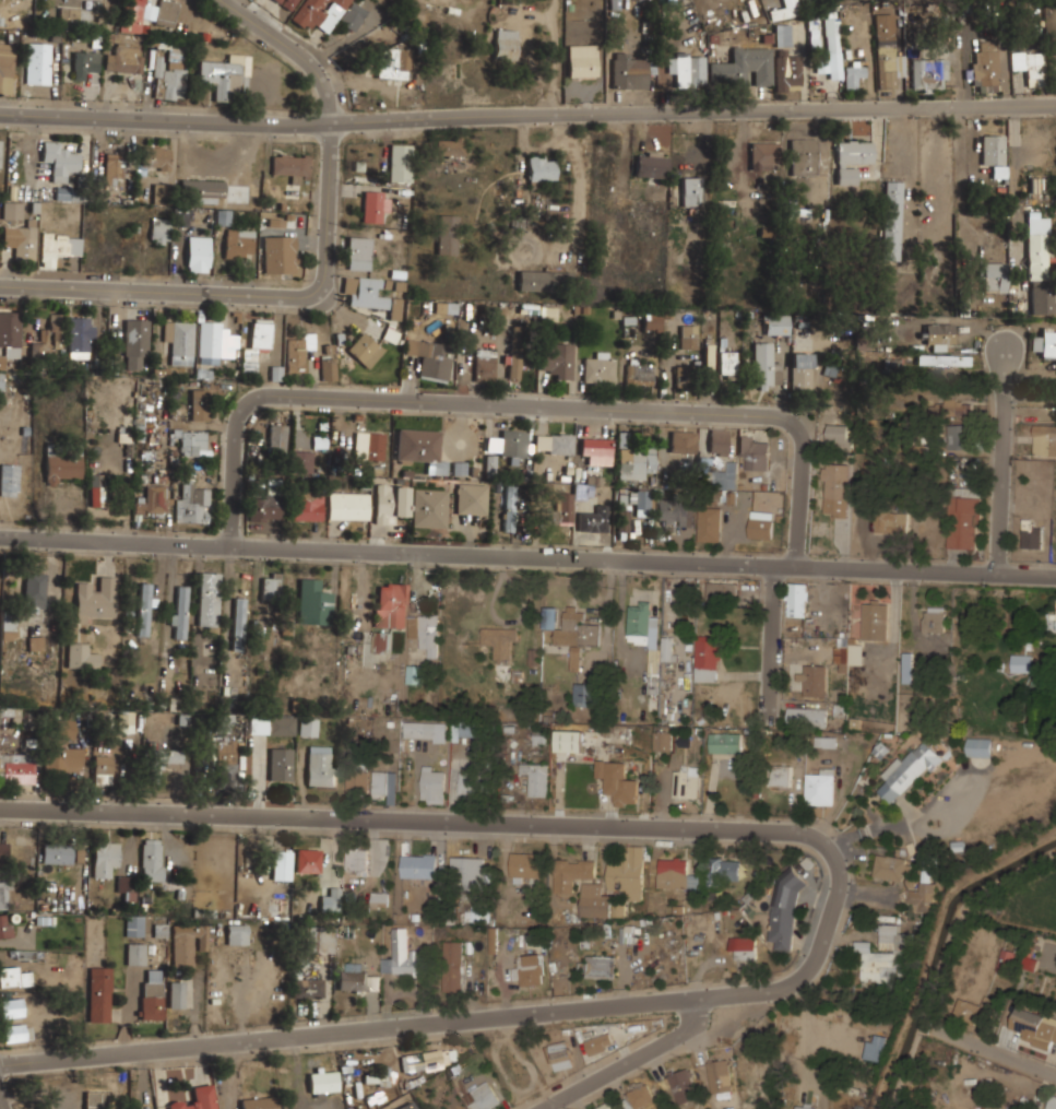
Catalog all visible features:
building: (286, 3)
building: (788, 3)
building: (166, 13)
building: (330, 13)
building: (132, 15)
building: (75, 17)
building: (781, 36)
building: (831, 43)
building: (505, 44)
road: (294, 48)
building: (886, 58)
building: (124, 59)
building: (582, 59)
road: (461, 60)
building: (38, 62)
building: (85, 62)
building: (404, 63)
building: (984, 66)
building: (1030, 66)
building: (7, 67)
building: (743, 67)
building: (688, 68)
building: (627, 69)
building: (787, 72)
building: (853, 72)
building: (928, 73)
building: (168, 79)
building: (222, 79)
road: (527, 116)
building: (0, 145)
building: (449, 146)
building: (994, 153)
building: (764, 154)
building: (803, 155)
building: (156, 157)
building: (852, 158)
building: (60, 160)
building: (401, 162)
building: (651, 164)
building: (292, 166)
building: (119, 167)
building: (541, 167)
building: (203, 191)
building: (691, 191)
building: (67, 193)
building: (161, 193)
road: (577, 200)
building: (376, 207)
building: (12, 211)
building: (180, 216)
building: (891, 220)
building: (159, 229)
building: (448, 234)
building: (21, 238)
building: (239, 244)
building: (58, 247)
building: (198, 252)
building: (359, 252)
building: (278, 253)
building: (1039, 263)
building: (994, 275)
building: (544, 279)
road: (248, 294)
building: (370, 295)
building: (547, 314)
building: (651, 318)
road: (949, 321)
building: (776, 323)
building: (55, 332)
building: (939, 333)
building: (9, 335)
building: (390, 335)
building: (689, 337)
building: (80, 339)
building: (180, 341)
building: (209, 342)
building: (1048, 343)
building: (135, 344)
building: (254, 346)
building: (364, 347)
building: (37, 352)
building: (297, 353)
building: (430, 357)
building: (558, 359)
building: (944, 359)
building: (708, 362)
building: (726, 364)
building: (514, 366)
building: (764, 366)
building: (485, 367)
building: (598, 368)
building: (329, 370)
building: (800, 370)
building: (639, 374)
building: (686, 376)
building: (1, 381)
building: (202, 402)
road: (519, 404)
building: (953, 408)
building: (958, 436)
building: (719, 440)
building: (276, 441)
building: (683, 441)
building: (194, 443)
building: (553, 444)
building: (1045, 444)
building: (513, 445)
building: (370, 446)
building: (420, 447)
building: (596, 450)
building: (755, 450)
building: (637, 461)
building: (62, 462)
road: (1001, 462)
building: (302, 463)
building: (725, 476)
building: (9, 480)
building: (837, 488)
building: (96, 489)
building: (472, 499)
building: (642, 500)
building: (152, 502)
building: (191, 503)
building: (392, 503)
building: (307, 506)
building: (352, 506)
building: (566, 506)
building: (265, 508)
building: (510, 508)
building: (430, 509)
building: (675, 512)
building: (624, 515)
building: (891, 518)
building: (965, 518)
building: (594, 519)
building: (710, 522)
building: (761, 524)
building: (1032, 533)
road: (527, 555)
building: (271, 585)
building: (34, 590)
building: (722, 591)
building: (209, 598)
building: (96, 599)
building: (797, 599)
building: (315, 603)
building: (391, 604)
road: (152, 607)
building: (144, 609)
building: (179, 611)
building: (238, 615)
building: (876, 618)
building: (934, 620)
building: (1053, 622)
building: (10, 625)
building: (578, 628)
building: (429, 634)
building: (645, 635)
road: (772, 637)
building: (500, 640)
building: (35, 642)
building: (381, 642)
building: (667, 648)
building: (843, 650)
building: (81, 657)
building: (708, 657)
building: (576, 659)
building: (1031, 659)
building: (414, 674)
building: (814, 680)
building: (1040, 684)
building: (588, 694)
building: (807, 716)
building: (126, 721)
building: (223, 722)
building: (283, 725)
building: (308, 727)
building: (466, 730)
building: (426, 731)
building: (662, 740)
building: (569, 741)
building: (725, 742)
building: (824, 742)
building: (61, 746)
building: (980, 746)
building: (169, 756)
building: (225, 764)
building: (281, 765)
building: (320, 765)
building: (16, 767)
building: (103, 768)
building: (909, 770)
building: (781, 775)
building: (537, 777)
building: (357, 780)
building: (470, 780)
building: (687, 781)
building: (435, 782)
building: (618, 782)
building: (385, 784)
building: (819, 787)
road: (842, 793)
road: (447, 819)
road: (911, 824)
building: (3, 850)
building: (57, 854)
building: (105, 857)
building: (151, 859)
building: (308, 861)
building: (357, 862)
building: (526, 864)
building: (281, 865)
building: (419, 865)
building: (724, 871)
building: (467, 872)
building: (628, 872)
building: (572, 873)
building: (676, 874)
building: (907, 880)
building: (127, 887)
building: (4, 892)
building: (379, 898)
building: (331, 900)
building: (595, 900)
building: (478, 913)
building: (782, 924)
building: (5, 925)
building: (134, 925)
building: (629, 933)
building: (237, 934)
building: (320, 939)
building: (188, 943)
building: (745, 946)
building: (135, 953)
building: (404, 955)
building: (886, 956)
building: (1006, 960)
building: (453, 966)
building: (601, 966)
building: (529, 969)
building: (13, 977)
building: (354, 978)
building: (373, 982)
building: (1034, 984)
building: (307, 987)
building: (99, 994)
building: (152, 994)
building: (176, 994)
building: (12, 1007)
building: (968, 1011)
road: (438, 1019)
building: (1032, 1029)
building: (16, 1031)
building: (600, 1042)
road: (663, 1042)
building: (876, 1047)
road: (1000, 1049)
building: (561, 1054)
building: (428, 1059)
building: (752, 1065)
building: (720, 1075)
building: (378, 1077)
building: (321, 1082)
building: (683, 1085)
building: (641, 1096)
building: (483, 1097)
road: (3, 1098)
building: (197, 1098)
building: (93, 1099)
building: (1052, 1101)
building: (258, 1102)
building: (406, 1106)
building: (606, 1106)
building: (805, 1106)

